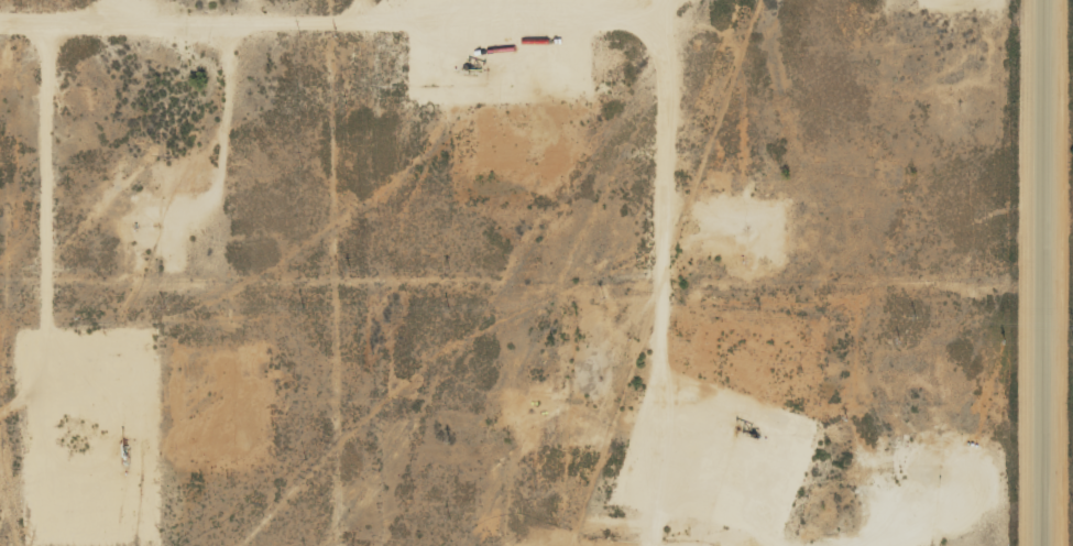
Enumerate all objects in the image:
road: (349, 10)
road: (365, 20)
road: (51, 199)
road: (661, 273)
road: (1038, 273)

